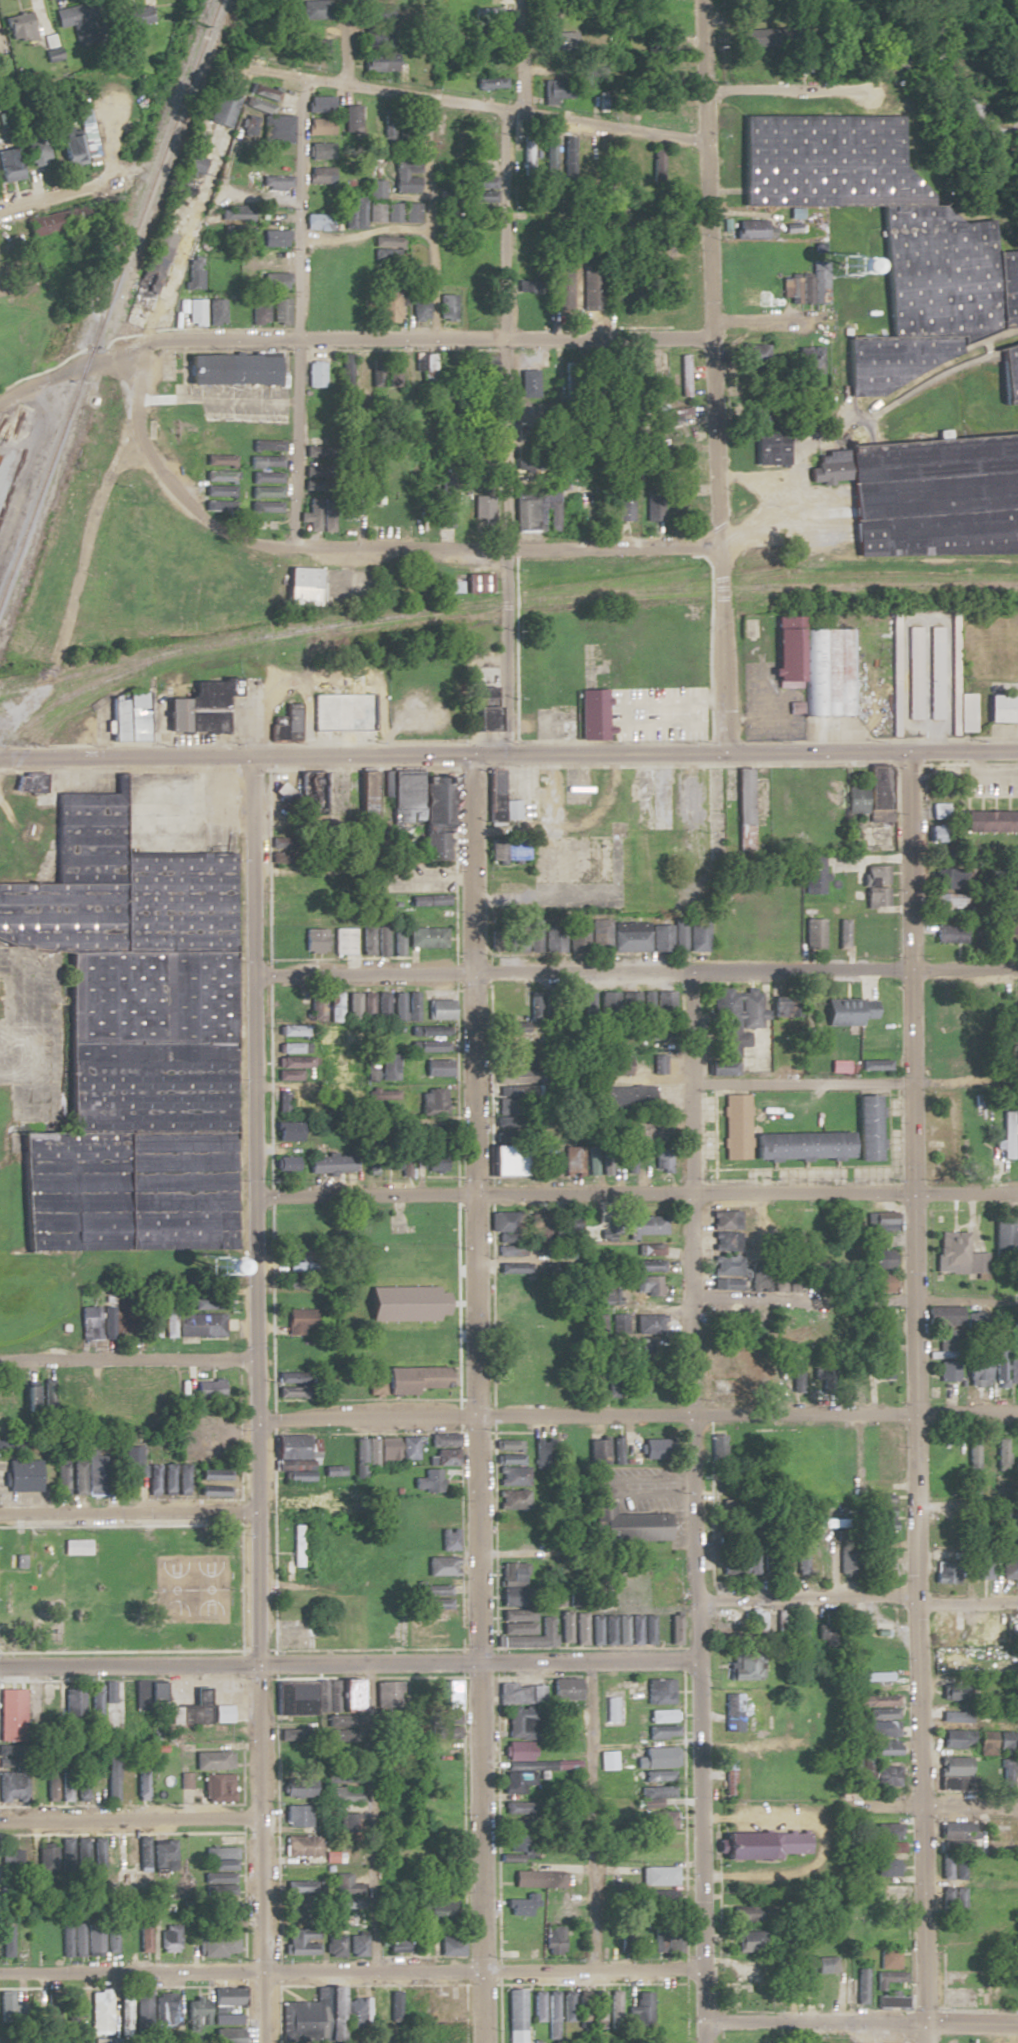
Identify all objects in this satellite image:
road: (818, 6)
building: (315, 9)
building: (377, 13)
building: (67, 16)
building: (18, 25)
building: (378, 38)
building: (750, 38)
road: (340, 41)
building: (662, 46)
building: (378, 62)
building: (488, 83)
building: (555, 91)
road: (790, 93)
building: (319, 105)
road: (473, 105)
building: (655, 108)
building: (223, 109)
building: (83, 110)
building: (270, 114)
building: (351, 118)
building: (247, 126)
building: (318, 126)
building: (485, 145)
building: (70, 149)
building: (312, 150)
building: (37, 157)
building: (550, 157)
building: (8, 162)
building: (194, 163)
building: (240, 166)
building: (405, 174)
building: (319, 175)
building: (275, 188)
building: (479, 188)
road: (44, 195)
building: (388, 207)
building: (319, 210)
building: (353, 212)
building: (237, 213)
road: (430, 216)
building: (273, 217)
building: (51, 223)
building: (753, 229)
building: (885, 237)
building: (273, 238)
road: (184, 247)
building: (386, 248)
building: (748, 253)
building: (274, 259)
building: (153, 270)
water tower: (839, 270)
building: (196, 273)
building: (232, 273)
building: (752, 278)
building: (274, 281)
building: (594, 289)
building: (796, 289)
building: (753, 297)
railway: (109, 300)
building: (528, 303)
building: (386, 305)
building: (418, 307)
building: (446, 307)
building: (623, 307)
building: (258, 311)
building: (279, 311)
road: (292, 311)
building: (193, 312)
building: (216, 312)
building: (238, 312)
road: (745, 321)
road: (355, 337)
building: (752, 357)
building: (429, 368)
building: (232, 370)
building: (391, 371)
building: (649, 371)
building: (1008, 372)
building: (315, 375)
building: (684, 375)
road: (506, 377)
road: (709, 378)
building: (528, 383)
road: (6, 399)
road: (405, 408)
building: (220, 429)
building: (267, 429)
road: (810, 439)
building: (220, 444)
building: (767, 444)
building: (266, 446)
building: (220, 460)
building: (265, 461)
building: (221, 475)
building: (265, 477)
building: (219, 490)
building: (930, 495)
building: (265, 498)
building: (348, 506)
building: (624, 506)
building: (398, 511)
building: (553, 513)
building: (525, 515)
building: (319, 516)
road: (88, 541)
road: (360, 547)
building: (233, 582)
building: (480, 582)
building: (300, 586)
railway: (606, 595)
building: (786, 655)
railway: (99, 668)
building: (830, 672)
building: (913, 672)
building: (935, 672)
railway: (90, 683)
building: (199, 707)
building: (480, 709)
building: (1000, 709)
building: (961, 712)
building: (341, 713)
building: (592, 714)
building: (134, 716)
building: (287, 723)
road: (508, 756)
building: (311, 791)
building: (367, 793)
building: (876, 793)
building: (854, 799)
building: (421, 808)
building: (743, 808)
building: (938, 810)
building: (990, 820)
building: (872, 837)
building: (507, 849)
building: (812, 873)
building: (875, 885)
building: (118, 891)
building: (946, 900)
building: (1008, 911)
building: (598, 932)
building: (812, 932)
building: (575, 933)
building: (690, 933)
building: (842, 933)
building: (949, 933)
building: (628, 935)
building: (426, 936)
building: (659, 936)
building: (373, 939)
building: (344, 940)
building: (396, 940)
building: (313, 945)
road: (635, 969)
building: (149, 996)
building: (659, 1003)
building: (318, 1005)
building: (405, 1005)
building: (335, 1006)
building: (352, 1006)
building: (366, 1006)
building: (381, 1006)
building: (439, 1008)
building: (847, 1011)
building: (736, 1017)
building: (429, 1030)
building: (651, 1031)
building: (429, 1044)
building: (295, 1061)
building: (611, 1062)
building: (658, 1063)
building: (409, 1066)
building: (436, 1066)
building: (721, 1066)
building: (388, 1067)
building: (289, 1074)
road: (966, 1079)
road: (804, 1080)
road: (582, 1081)
building: (149, 1086)
road: (298, 1089)
building: (505, 1092)
building: (619, 1097)
building: (434, 1101)
building: (283, 1103)
building: (735, 1125)
building: (866, 1126)
building: (287, 1130)
building: (1007, 1134)
building: (800, 1145)
building: (572, 1156)
building: (599, 1158)
building: (625, 1158)
building: (658, 1158)
building: (388, 1159)
building: (504, 1159)
building: (434, 1163)
building: (285, 1164)
building: (327, 1164)
building: (125, 1190)
road: (635, 1193)
building: (724, 1219)
building: (499, 1221)
building: (564, 1225)
building: (637, 1225)
building: (539, 1230)
building: (1003, 1233)
building: (725, 1242)
building: (430, 1250)
building: (957, 1254)
building: (646, 1258)
building: (878, 1259)
water tower: (214, 1266)
building: (433, 1267)
building: (511, 1284)
building: (649, 1285)
building: (607, 1297)
road: (856, 1301)
building: (211, 1303)
building: (943, 1315)
building: (115, 1321)
building: (90, 1322)
building: (152, 1322)
building: (297, 1322)
building: (617, 1324)
building: (646, 1324)
building: (200, 1325)
building: (946, 1343)
road: (17, 1358)
road: (143, 1361)
building: (881, 1364)
building: (1004, 1366)
building: (976, 1368)
building: (947, 1371)
building: (797, 1376)
building: (405, 1379)
building: (776, 1382)
building: (292, 1387)
building: (208, 1389)
road: (917, 1398)
road: (469, 1400)
road: (252, 1401)
road: (807, 1403)
road: (634, 1414)
building: (441, 1440)
building: (294, 1447)
building: (654, 1448)
building: (407, 1450)
building: (386, 1451)
building: (597, 1451)
building: (1001, 1453)
building: (358, 1457)
building: (444, 1457)
building: (132, 1463)
building: (509, 1463)
building: (971, 1468)
building: (331, 1470)
building: (21, 1475)
building: (90, 1475)
building: (61, 1477)
building: (426, 1481)
road: (645, 1483)
building: (335, 1499)
building: (510, 1499)
building: (295, 1503)
road: (696, 1506)
road: (963, 1509)
road: (126, 1514)
building: (877, 1519)
building: (626, 1522)
building: (830, 1523)
building: (418, 1540)
building: (76, 1547)
building: (800, 1557)
building: (748, 1558)
building: (783, 1558)
building: (18, 1562)
building: (848, 1564)
building: (1008, 1564)
building: (440, 1566)
building: (979, 1567)
building: (401, 1568)
building: (945, 1572)
building: (432, 1590)
building: (551, 1599)
road: (857, 1599)
building: (433, 1604)
building: (518, 1613)
building: (563, 1626)
building: (975, 1628)
building: (945, 1629)
building: (292, 1634)
road: (474, 1661)
road: (126, 1664)
building: (743, 1666)
building: (871, 1676)
building: (563, 1690)
building: (957, 1693)
building: (518, 1694)
building: (94, 1701)
building: (315, 1702)
building: (72, 1704)
building: (877, 1706)
building: (192, 1709)
building: (732, 1712)
building: (221, 1714)
building: (444, 1714)
building: (520, 1723)
building: (662, 1729)
building: (874, 1729)
building: (1006, 1743)
building: (436, 1748)
building: (881, 1748)
building: (658, 1757)
building: (212, 1761)
building: (953, 1766)
building: (517, 1769)
building: (841, 1771)
building: (1007, 1771)
building: (878, 1774)
building: (654, 1776)
building: (728, 1777)
building: (746, 1777)
building: (437, 1778)
building: (139, 1781)
building: (216, 1787)
building: (656, 1792)
road: (933, 1809)
building: (296, 1816)
road: (368, 1817)
road: (589, 1817)
road: (126, 1820)
building: (656, 1820)
building: (886, 1831)
building: (954, 1836)
building: (515, 1842)
building: (763, 1845)
building: (300, 1846)
building: (888, 1848)
building: (507, 1858)
building: (142, 1859)
building: (162, 1859)
building: (219, 1859)
building: (946, 1866)
building: (884, 1868)
building: (657, 1875)
building: (526, 1878)
building: (218, 1884)
road: (970, 1884)
building: (298, 1887)
building: (342, 1892)
building: (890, 1896)
building: (952, 1897)
building: (521, 1905)
building: (220, 1913)
building: (745, 1914)
building: (852, 1932)
building: (878, 1933)
building: (141, 1936)
building: (625, 1936)
building: (167, 1938)
building: (87, 1939)
building: (551, 1939)
building: (516, 1940)
building: (11, 1941)
building: (300, 1941)
building: (746, 1941)
building: (355, 1945)
building: (215, 1946)
building: (332, 1946)
building: (396, 1948)
building: (447, 1948)
building: (887, 1959)
building: (824, 1965)
building: (801, 1968)
road: (127, 1972)
road: (477, 1972)
building: (859, 1986)
building: (880, 1987)
building: (1012, 1994)
building: (70, 2006)
building: (384, 2007)
building: (534, 2007)
building: (564, 2007)
building: (611, 2008)
building: (596, 2009)
building: (513, 2010)
building: (164, 2011)
building: (98, 2012)
building: (638, 2012)
building: (140, 2013)
building: (194, 2013)
building: (320, 2013)
building: (354, 2013)
building: (548, 2015)
building: (122, 2016)
building: (436, 2019)
road: (859, 2021)
building: (226, 2035)

